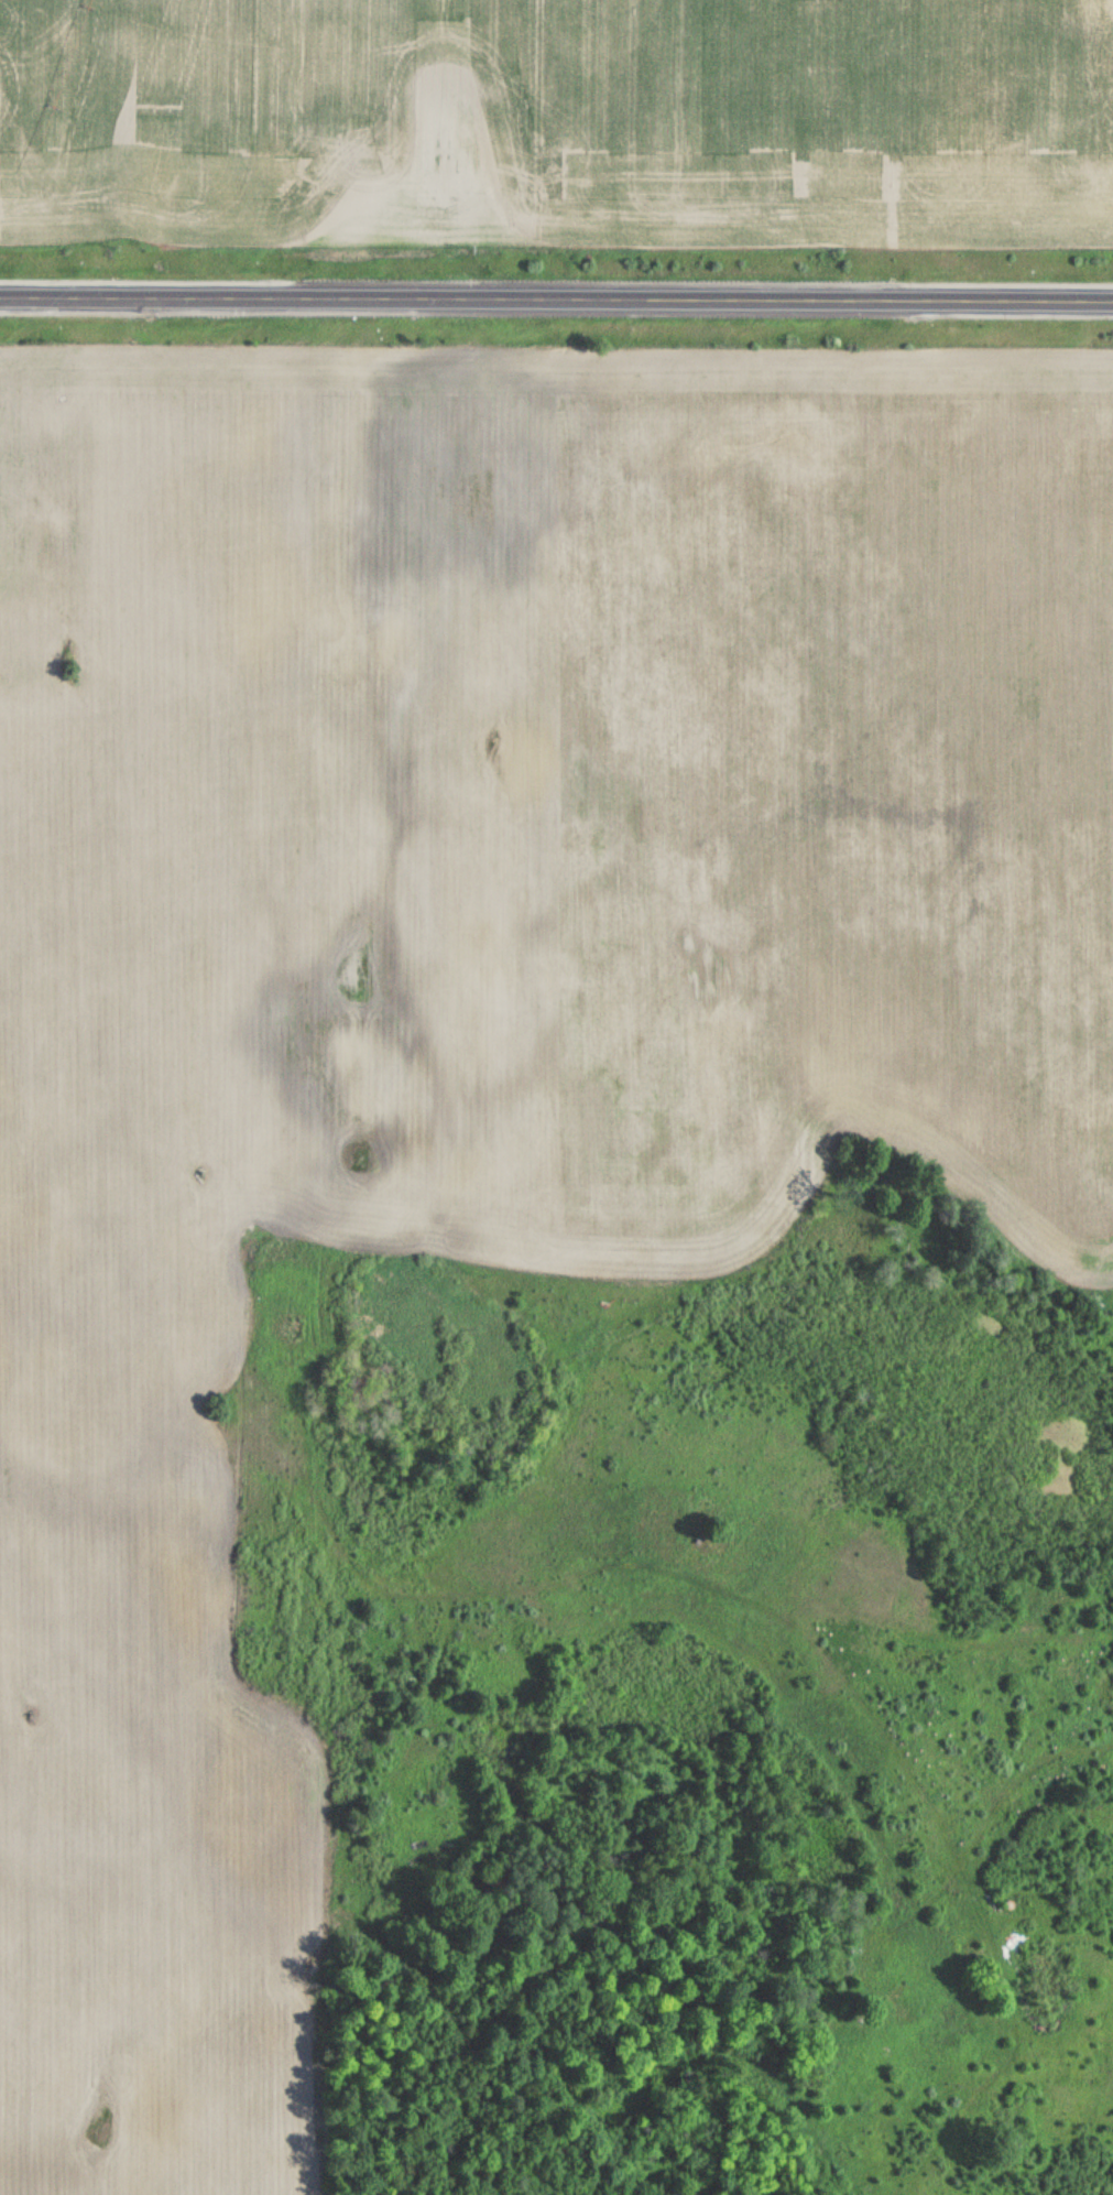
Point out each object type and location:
road: (556, 301)

